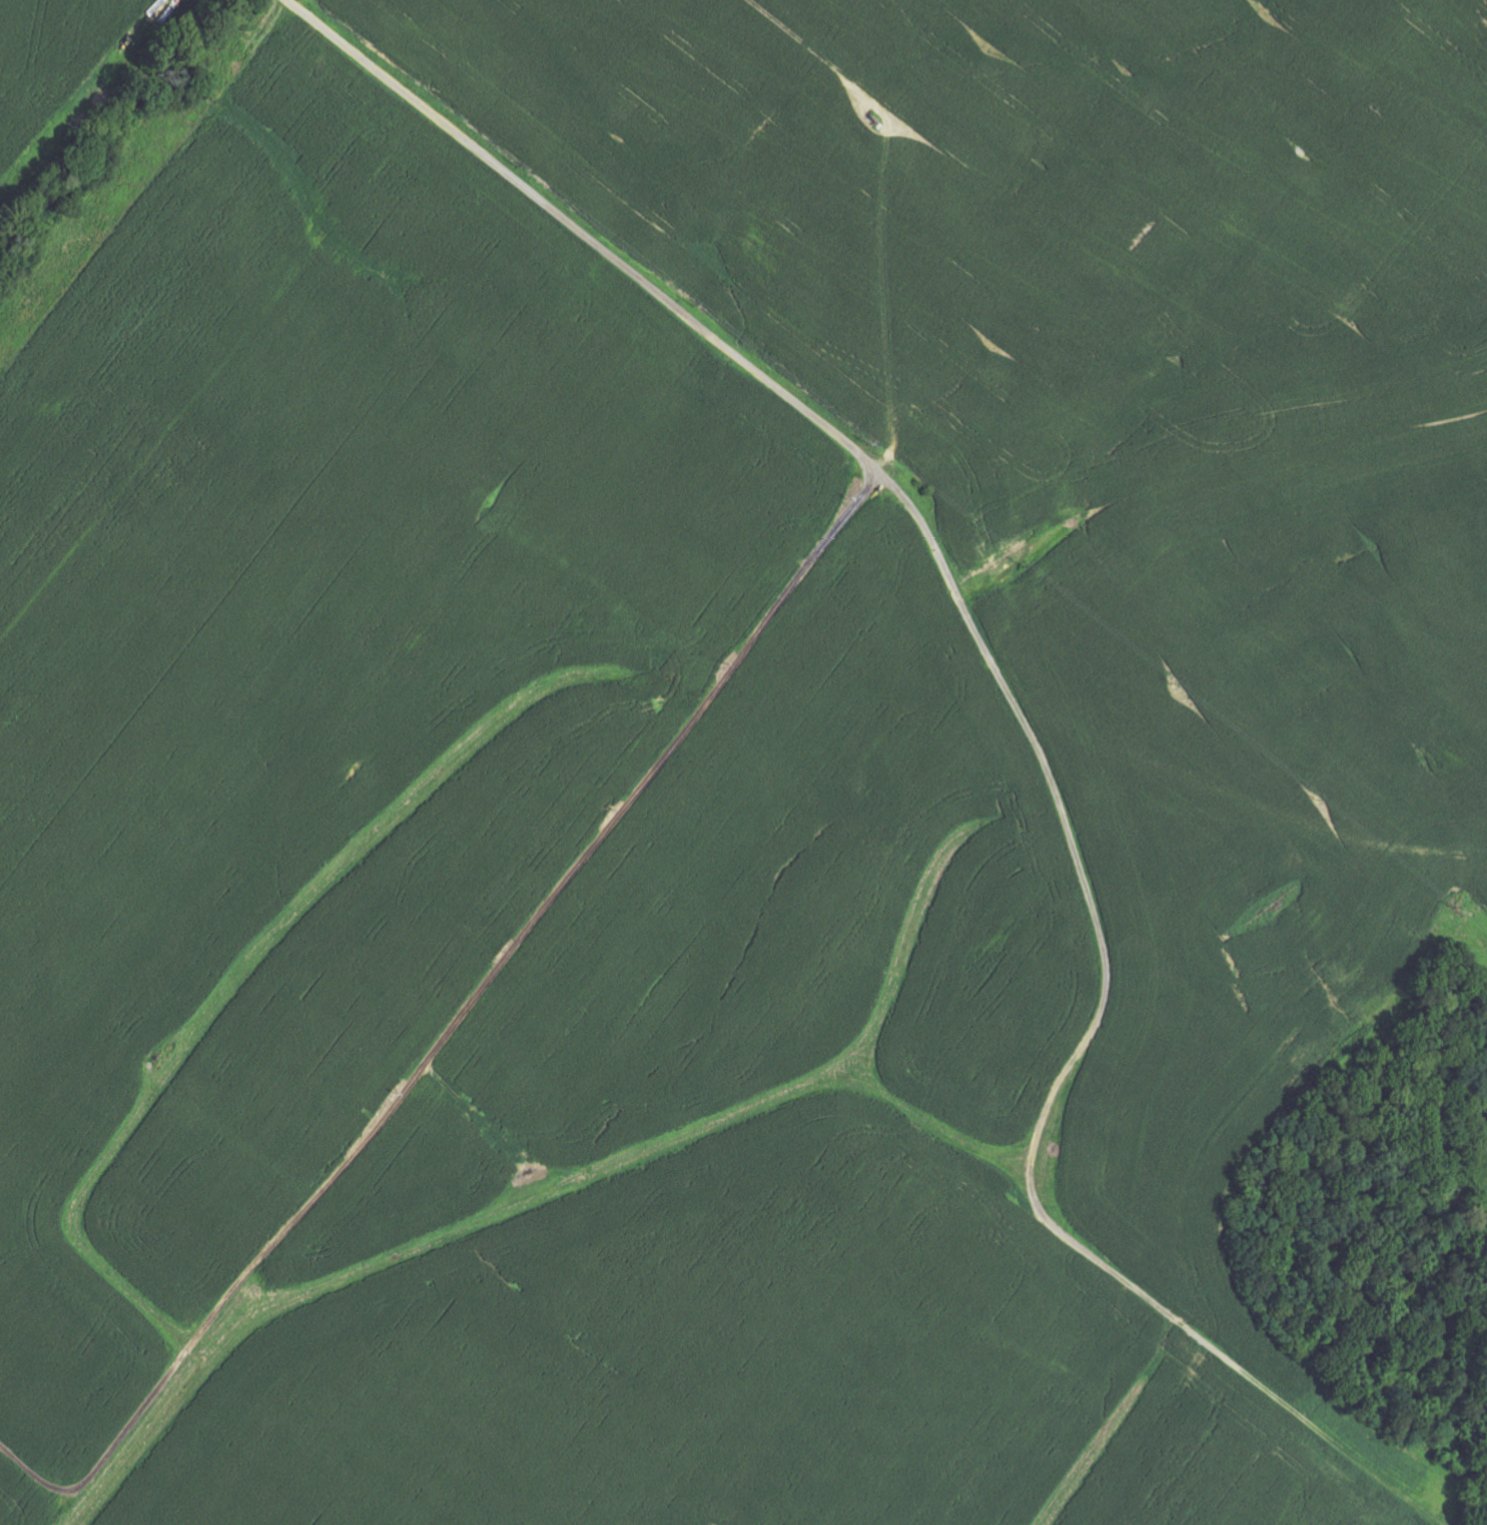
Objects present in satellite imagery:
road: (583, 235)
road: (452, 992)

